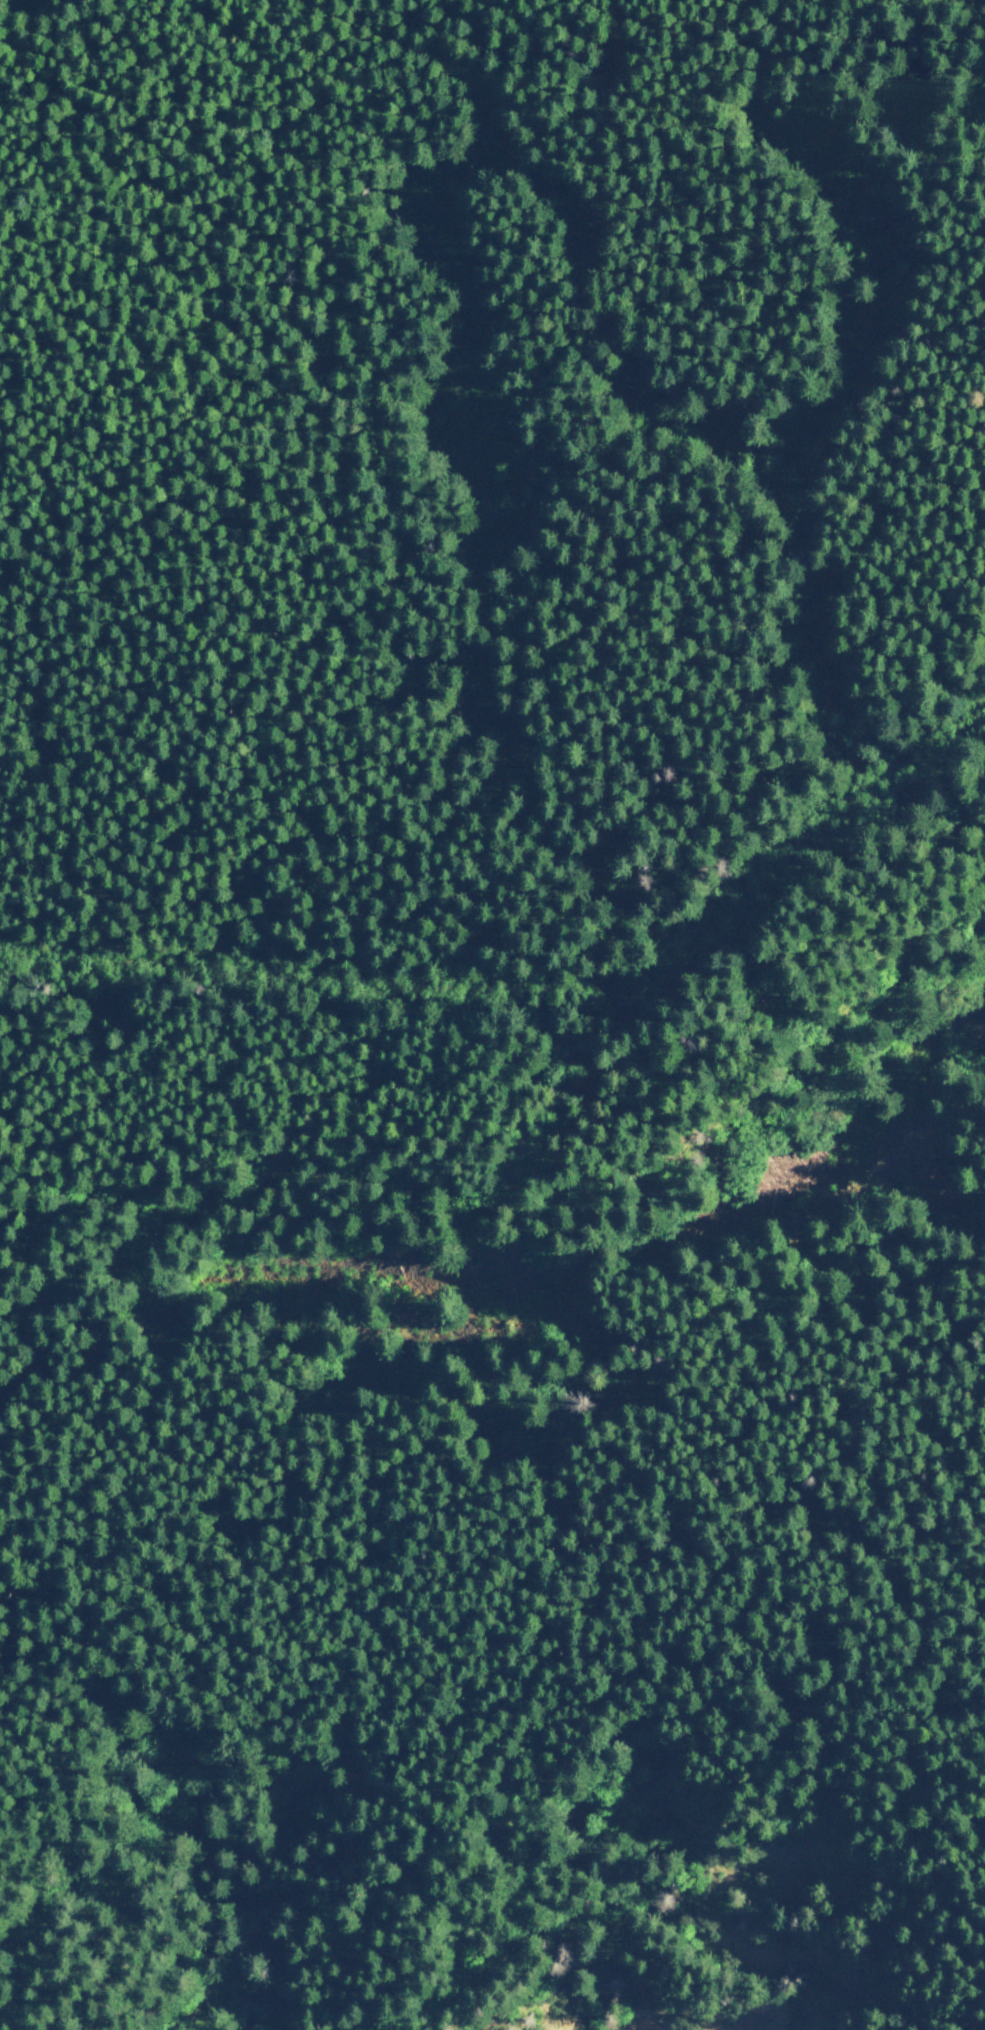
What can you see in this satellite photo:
road: (299, 543)
road: (514, 977)

